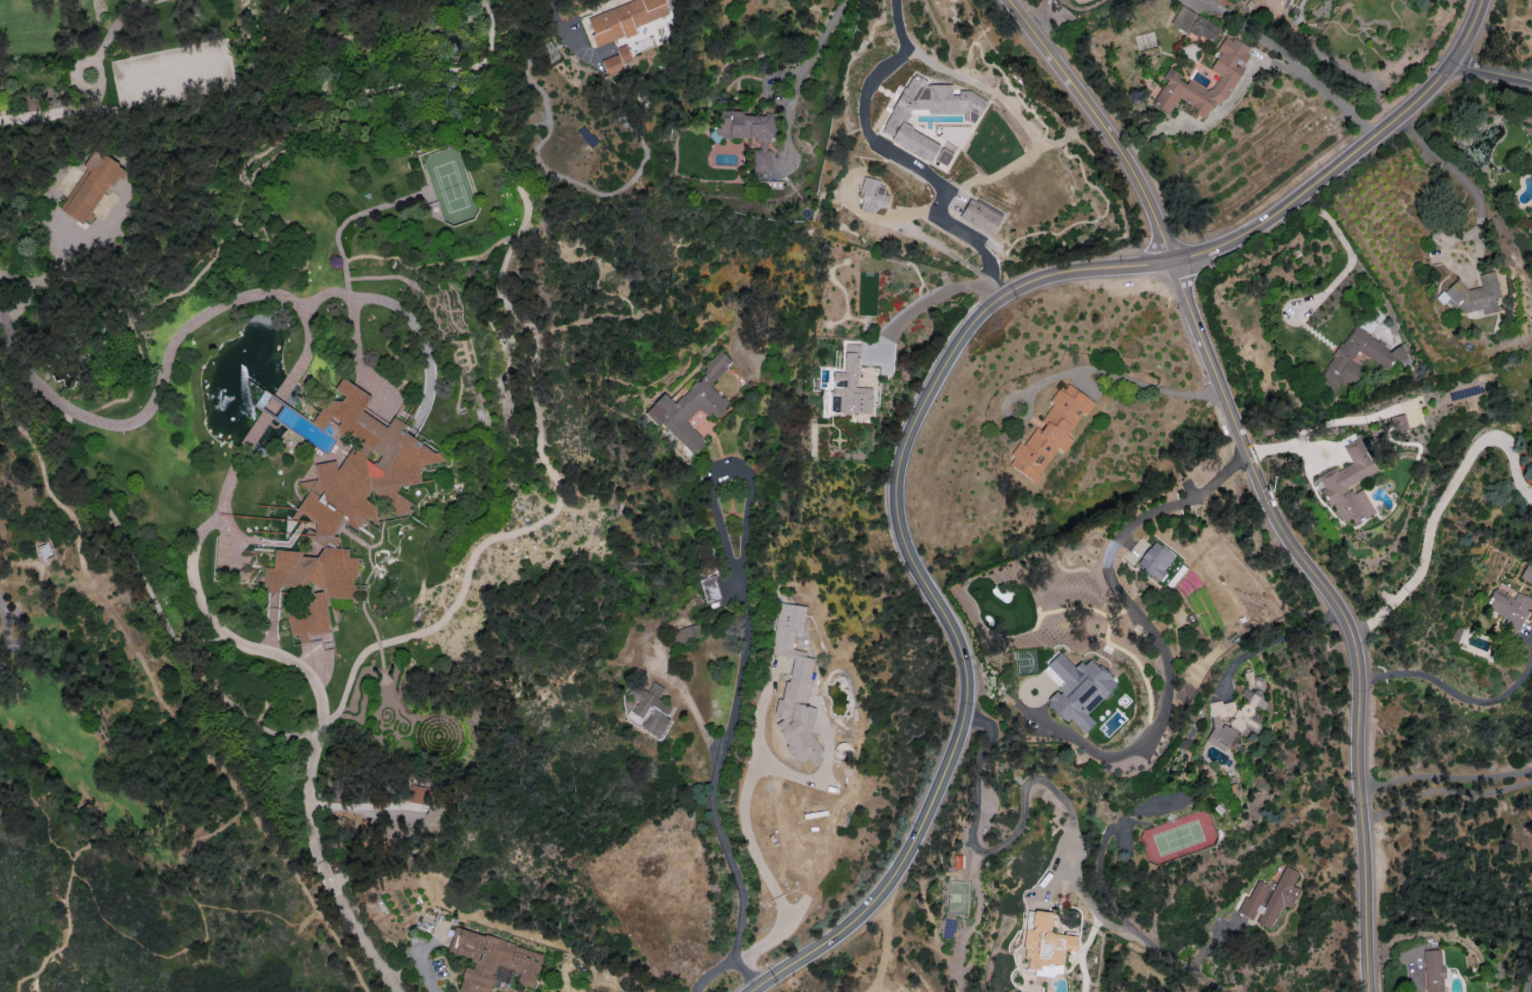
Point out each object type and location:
building: (623, 19)
building: (1195, 24)
road: (814, 46)
building: (617, 60)
road: (1492, 74)
building: (1228, 77)
road: (1249, 77)
building: (927, 112)
road: (51, 115)
road: (1104, 124)
building: (748, 132)
road: (1351, 157)
road: (893, 159)
building: (90, 187)
building: (872, 195)
building: (1531, 214)
building: (979, 215)
road: (1479, 221)
road: (1347, 260)
building: (1473, 295)
road: (930, 299)
road: (4, 310)
road: (403, 311)
building: (1384, 355)
road: (1083, 369)
building: (849, 386)
road: (155, 394)
building: (690, 405)
road: (272, 408)
building: (1397, 422)
building: (1050, 432)
building: (1348, 484)
building: (345, 502)
road: (1441, 509)
building: (43, 550)
building: (1154, 560)
road: (194, 581)
road: (927, 587)
building: (709, 588)
building: (1510, 608)
road: (1339, 610)
road: (4, 624)
parking lot: (10, 629)
road: (1147, 629)
building: (690, 632)
building: (1454, 634)
road: (1268, 642)
road: (737, 664)
parking lot: (2, 666)
building: (794, 686)
building: (1077, 689)
road: (161, 693)
road: (1469, 699)
building: (648, 710)
building: (1236, 715)
road: (695, 716)
park: (144, 764)
road: (1445, 776)
road: (1055, 792)
building: (419, 794)
road: (46, 824)
road: (320, 837)
road: (86, 845)
road: (774, 892)
building: (1269, 898)
building: (1045, 944)
road: (142, 948)
building: (492, 960)
building: (1433, 970)
road: (1527, 980)

